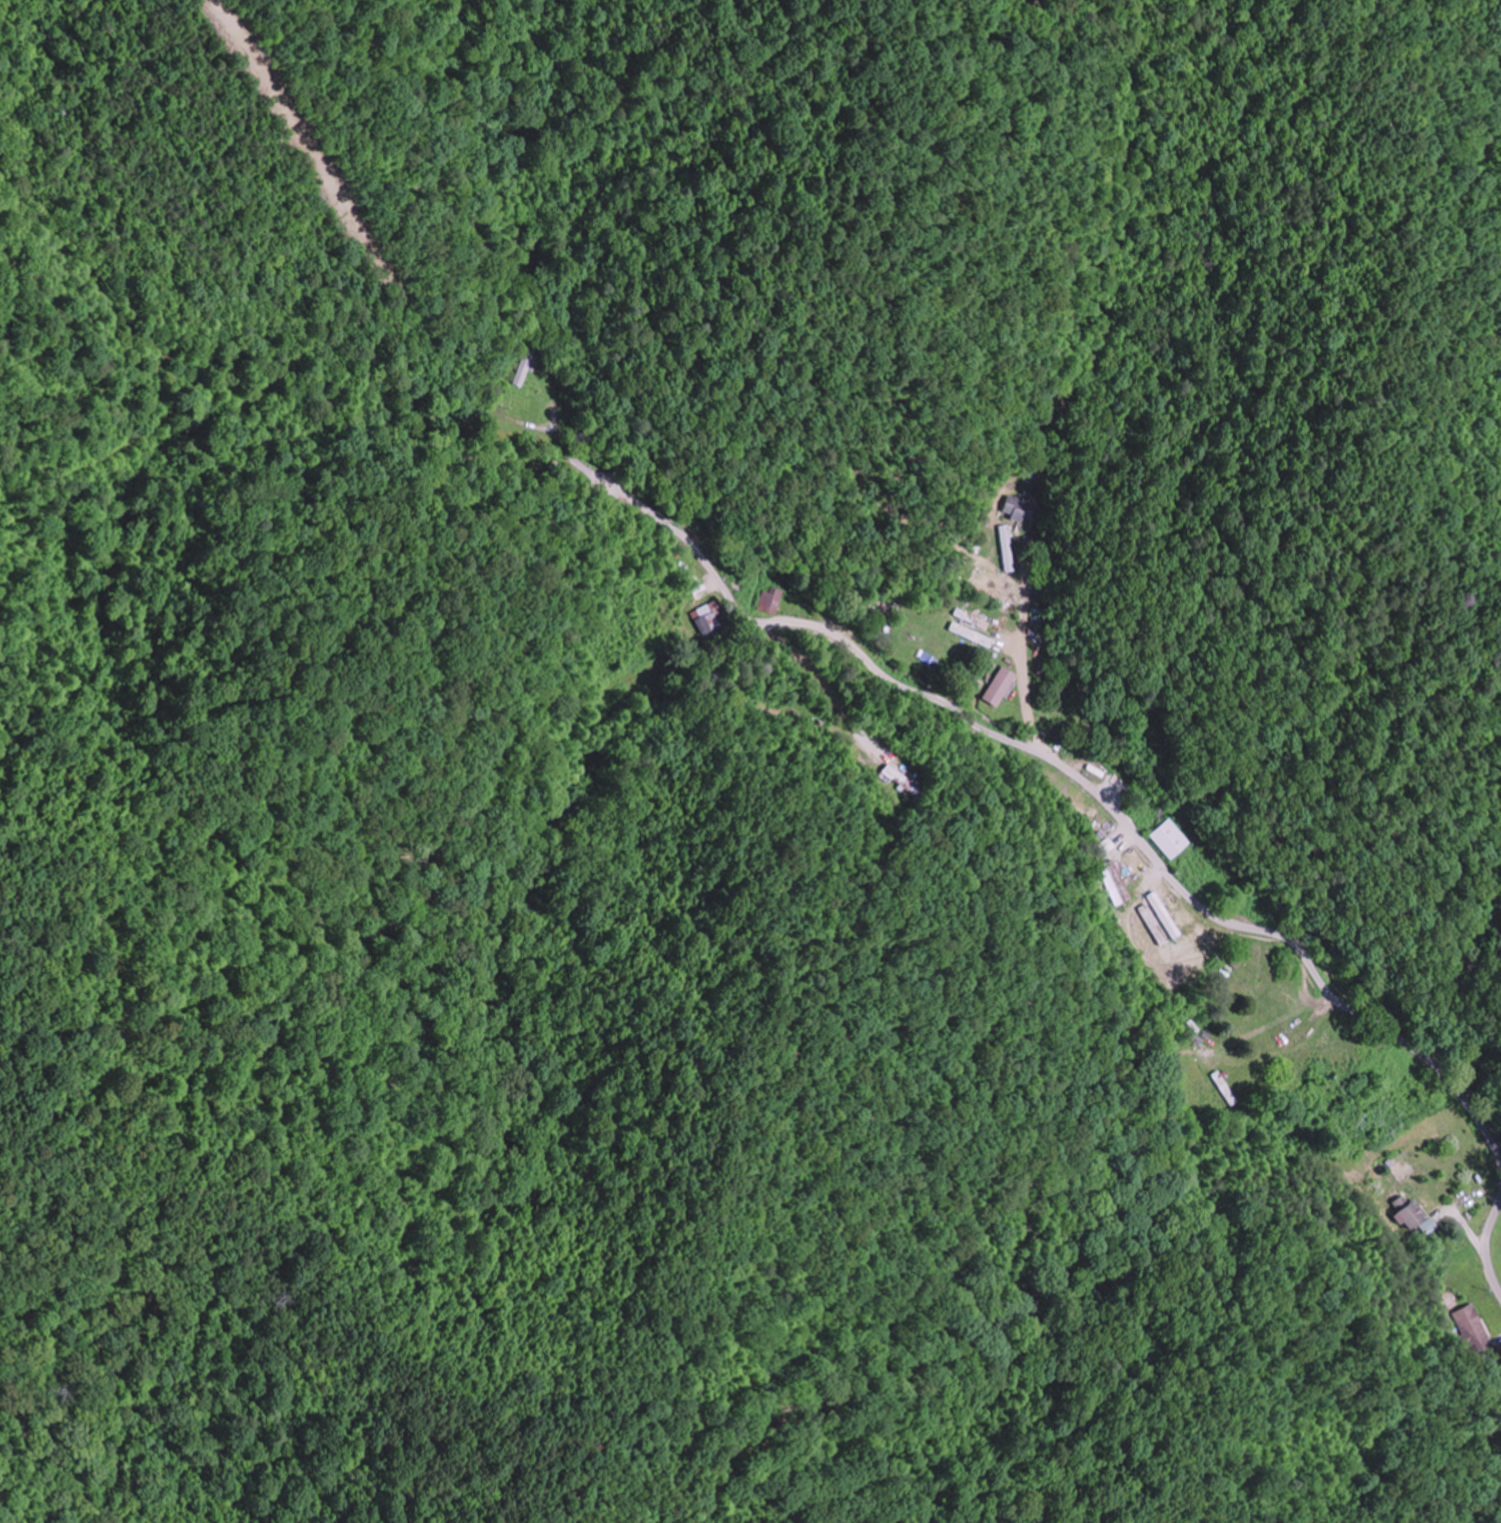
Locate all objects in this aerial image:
building: (523, 369)
building: (1022, 508)
building: (985, 588)
building: (781, 602)
building: (708, 617)
building: (1001, 686)
building: (899, 779)
road: (1106, 795)
building: (1171, 839)
building: (1162, 920)
building: (1224, 1088)
building: (1415, 1215)
building: (1478, 1335)
building: (1500, 1398)

